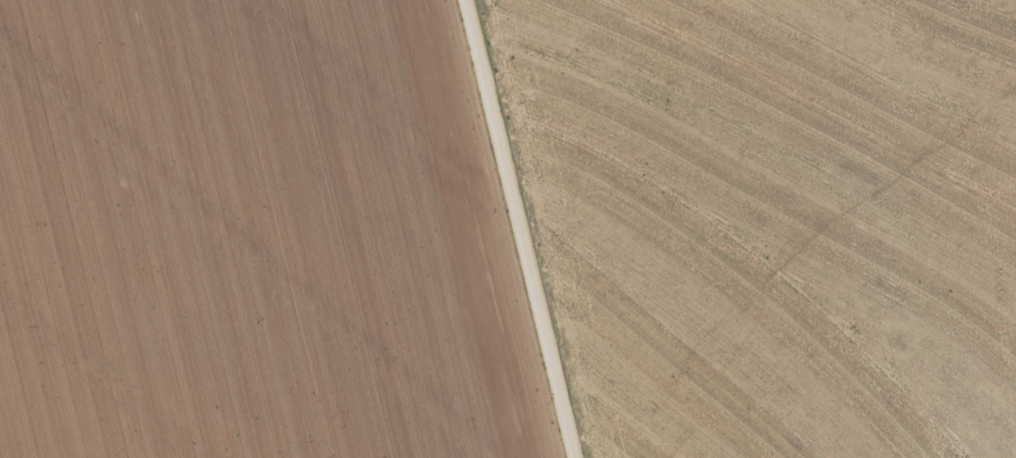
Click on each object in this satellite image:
road: (524, 229)

